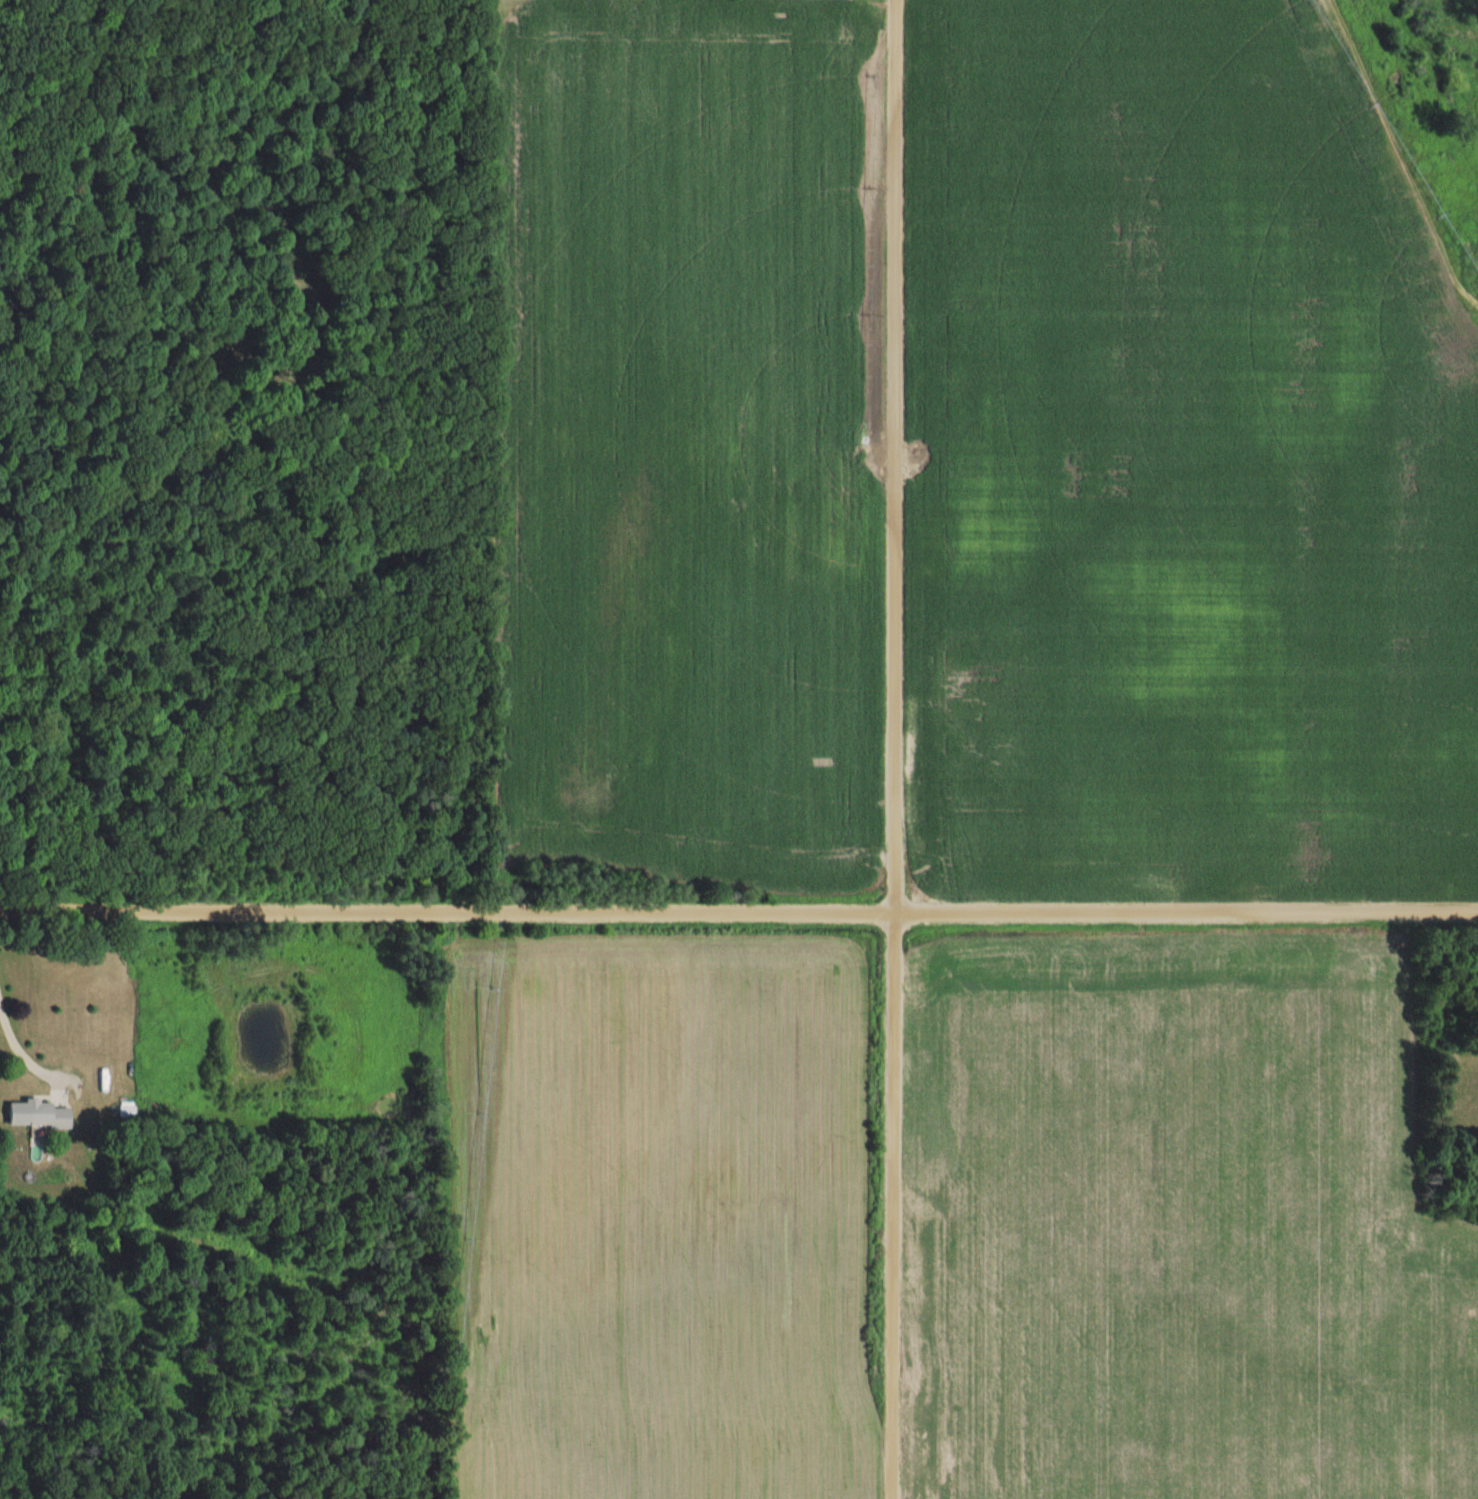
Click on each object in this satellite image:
road: (892, 749)
road: (738, 915)
road: (18, 1046)
building: (34, 1114)

